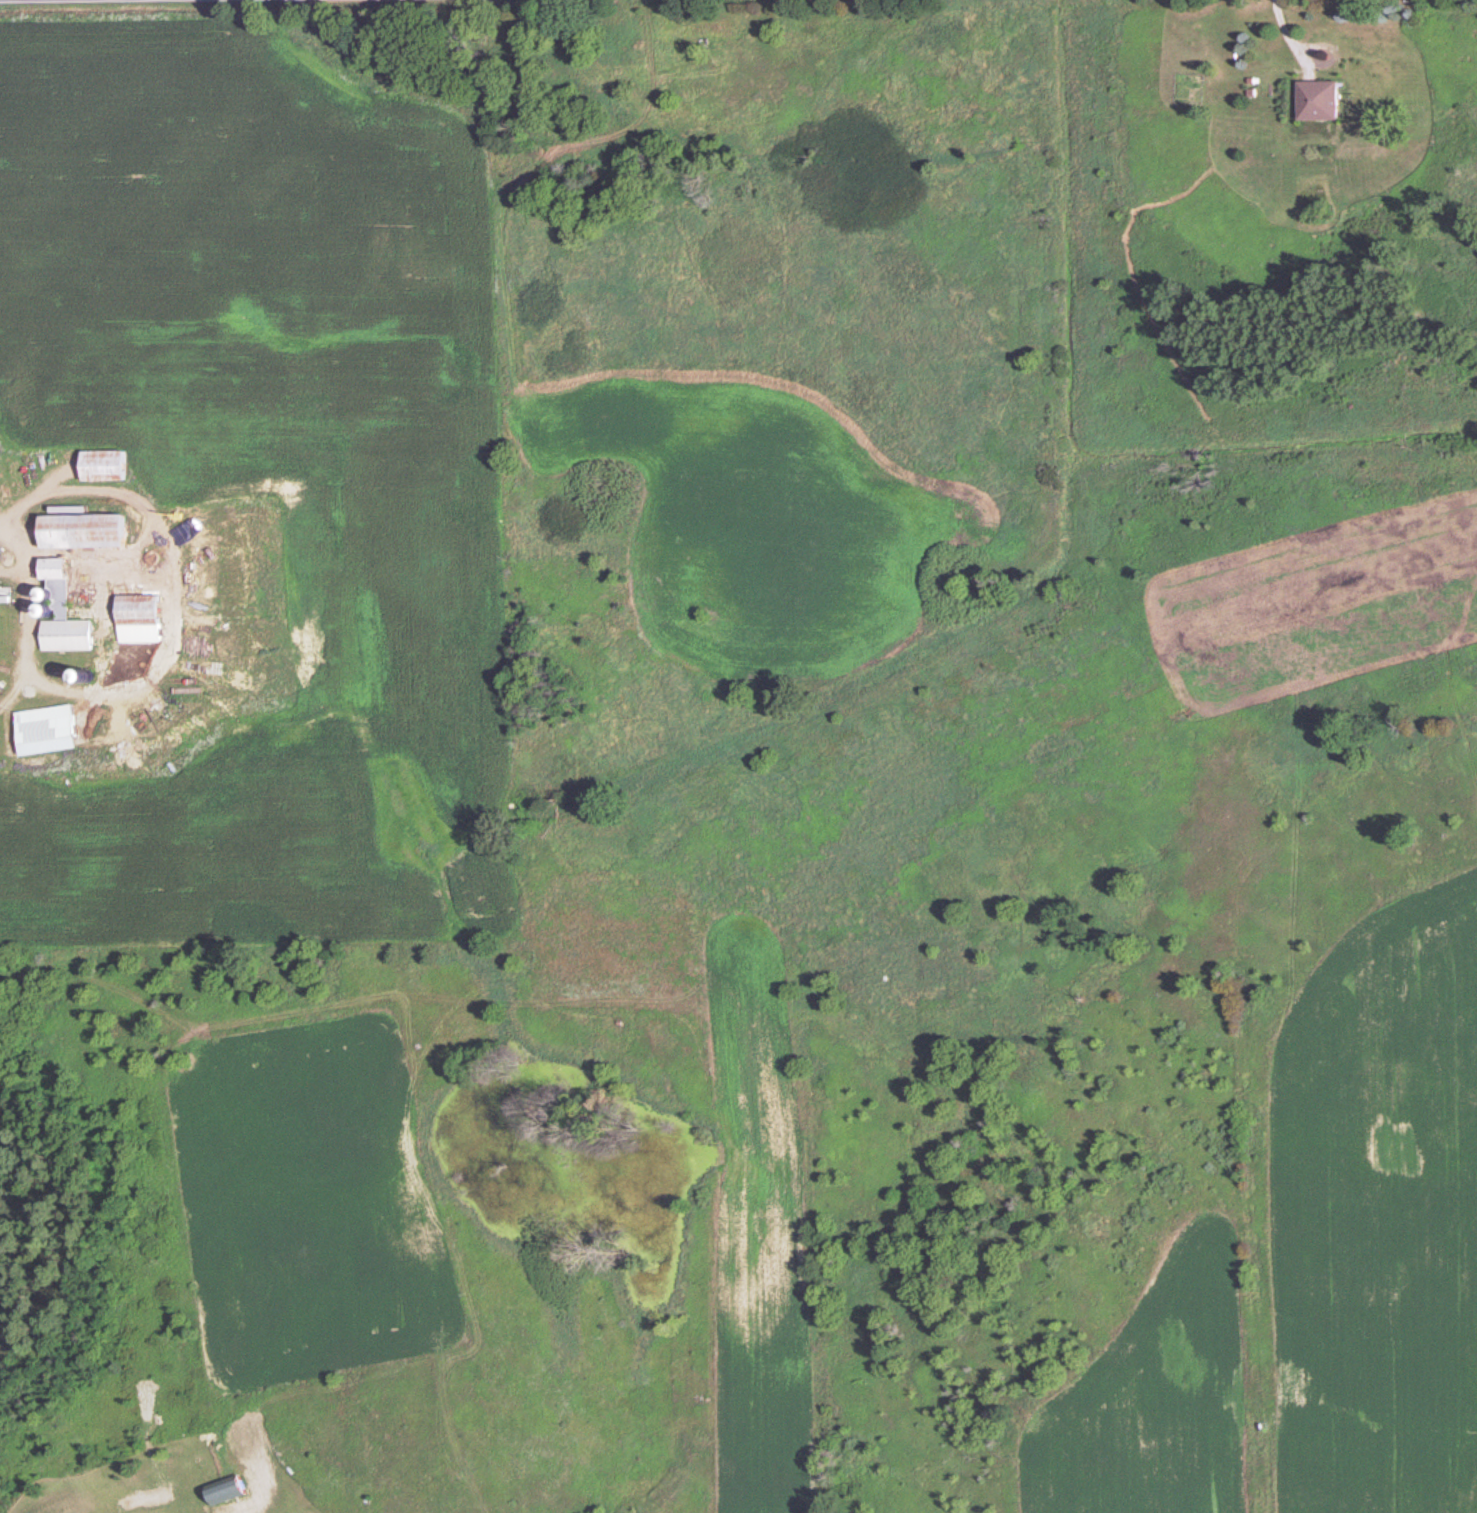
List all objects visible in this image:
road: (1281, 26)
road: (1331, 59)
building: (1313, 101)
building: (112, 466)
building: (96, 531)
building: (71, 613)
road: (36, 616)
building: (151, 619)
building: (54, 724)

